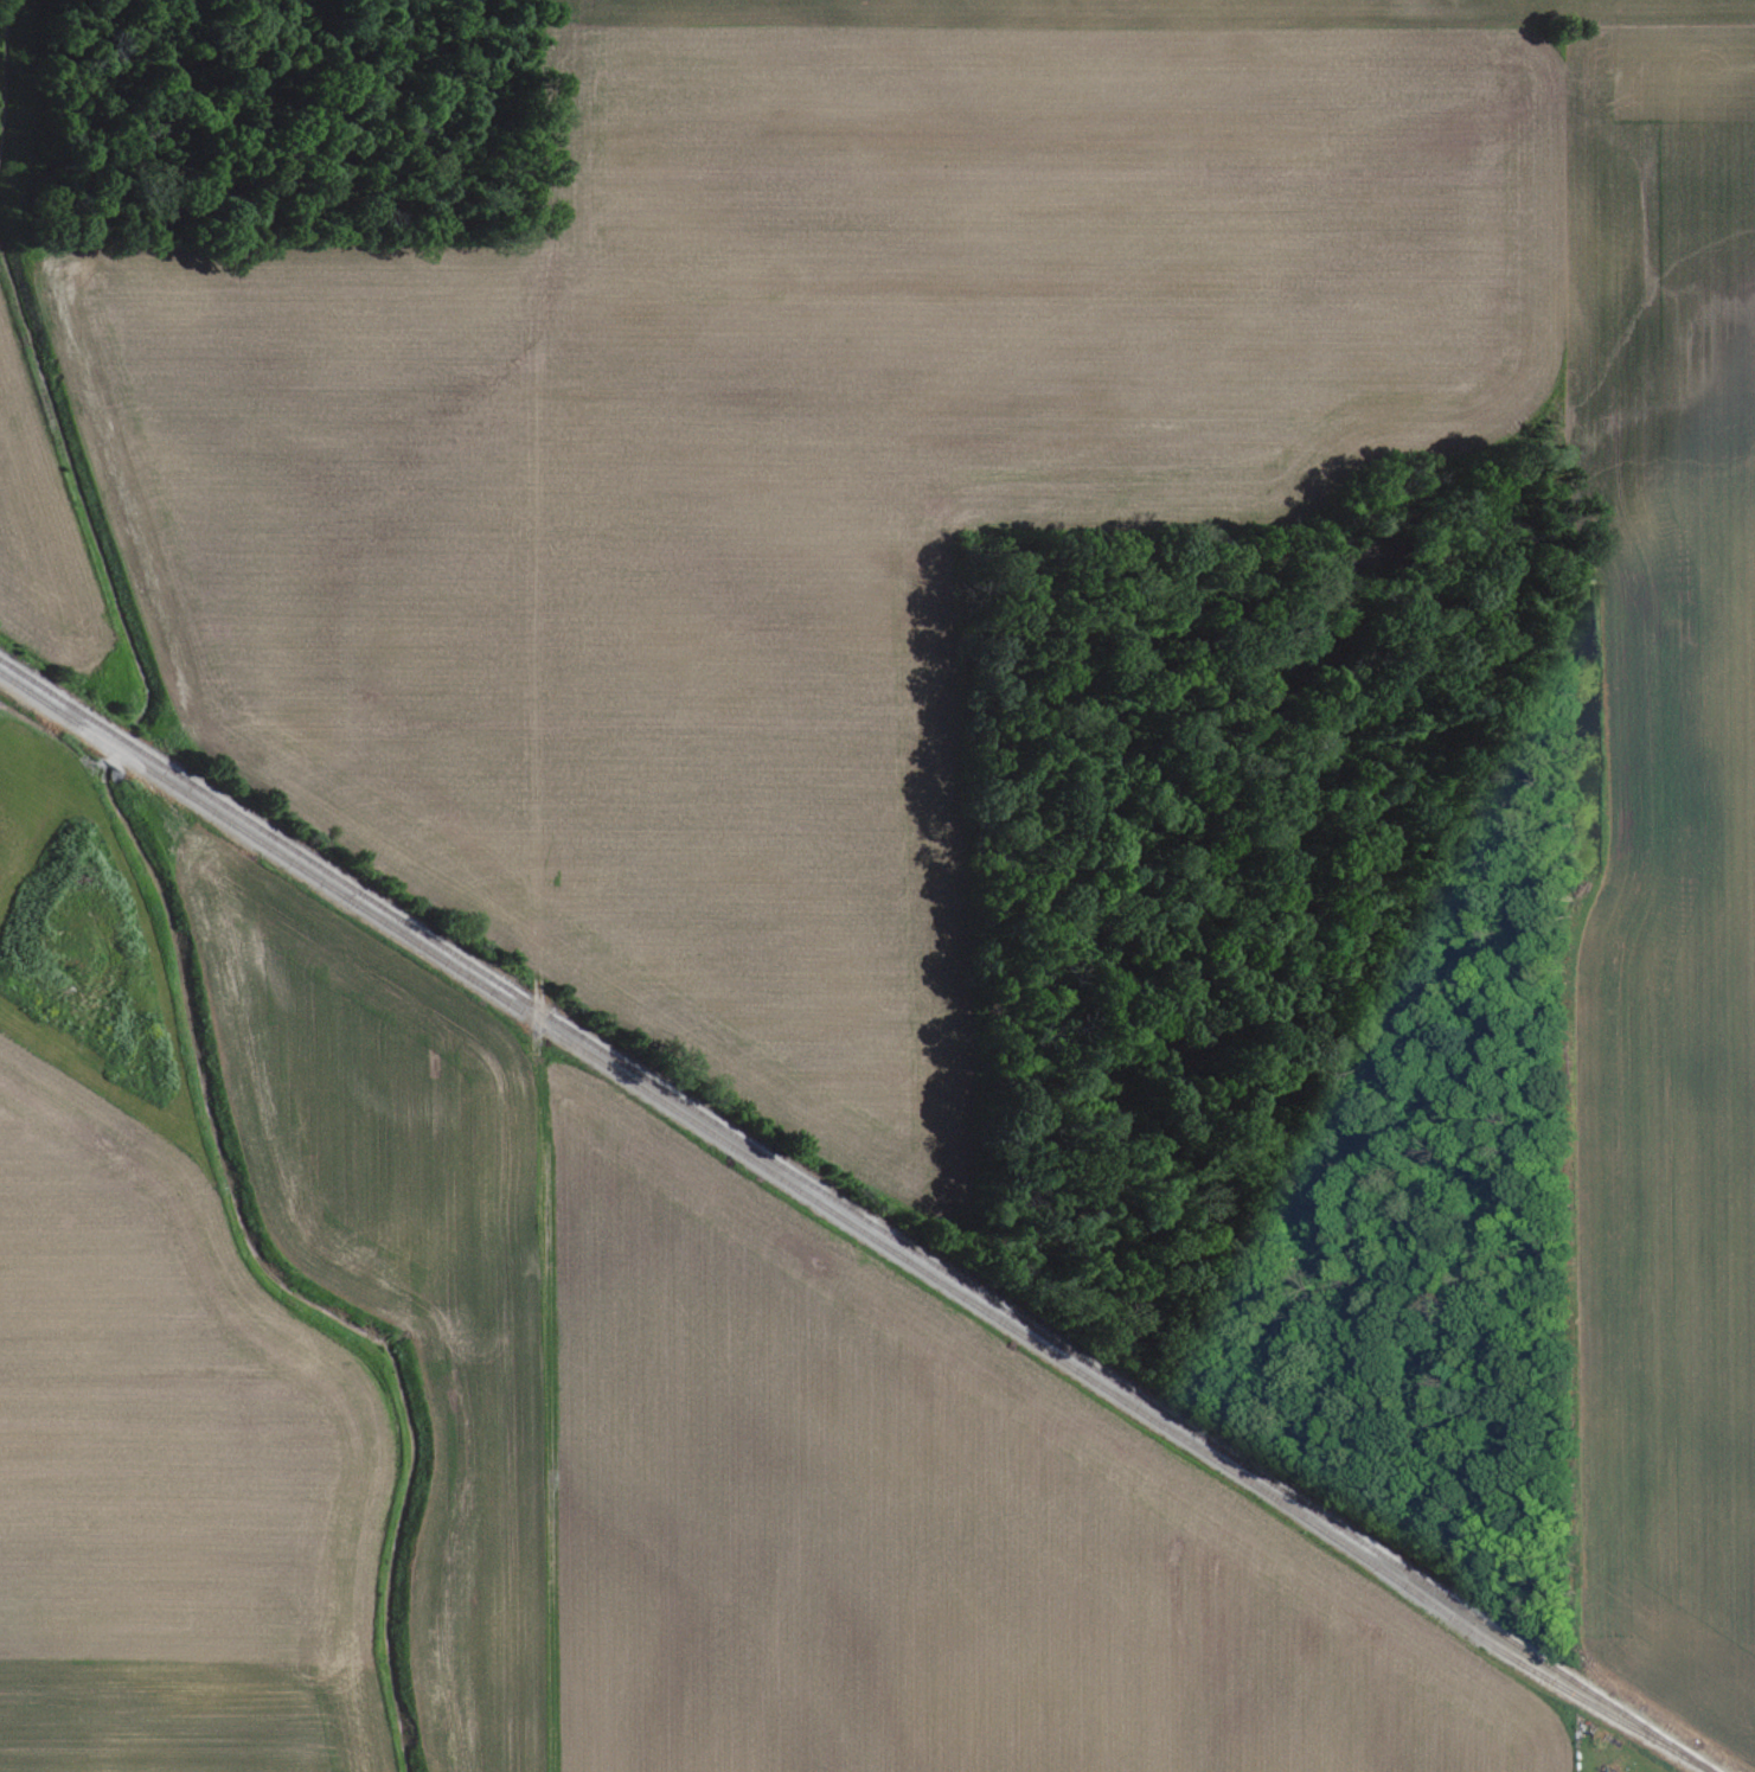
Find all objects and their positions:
crop: (1146, 11)
crop: (784, 473)
railway: (732, 1138)
railway: (857, 1215)

